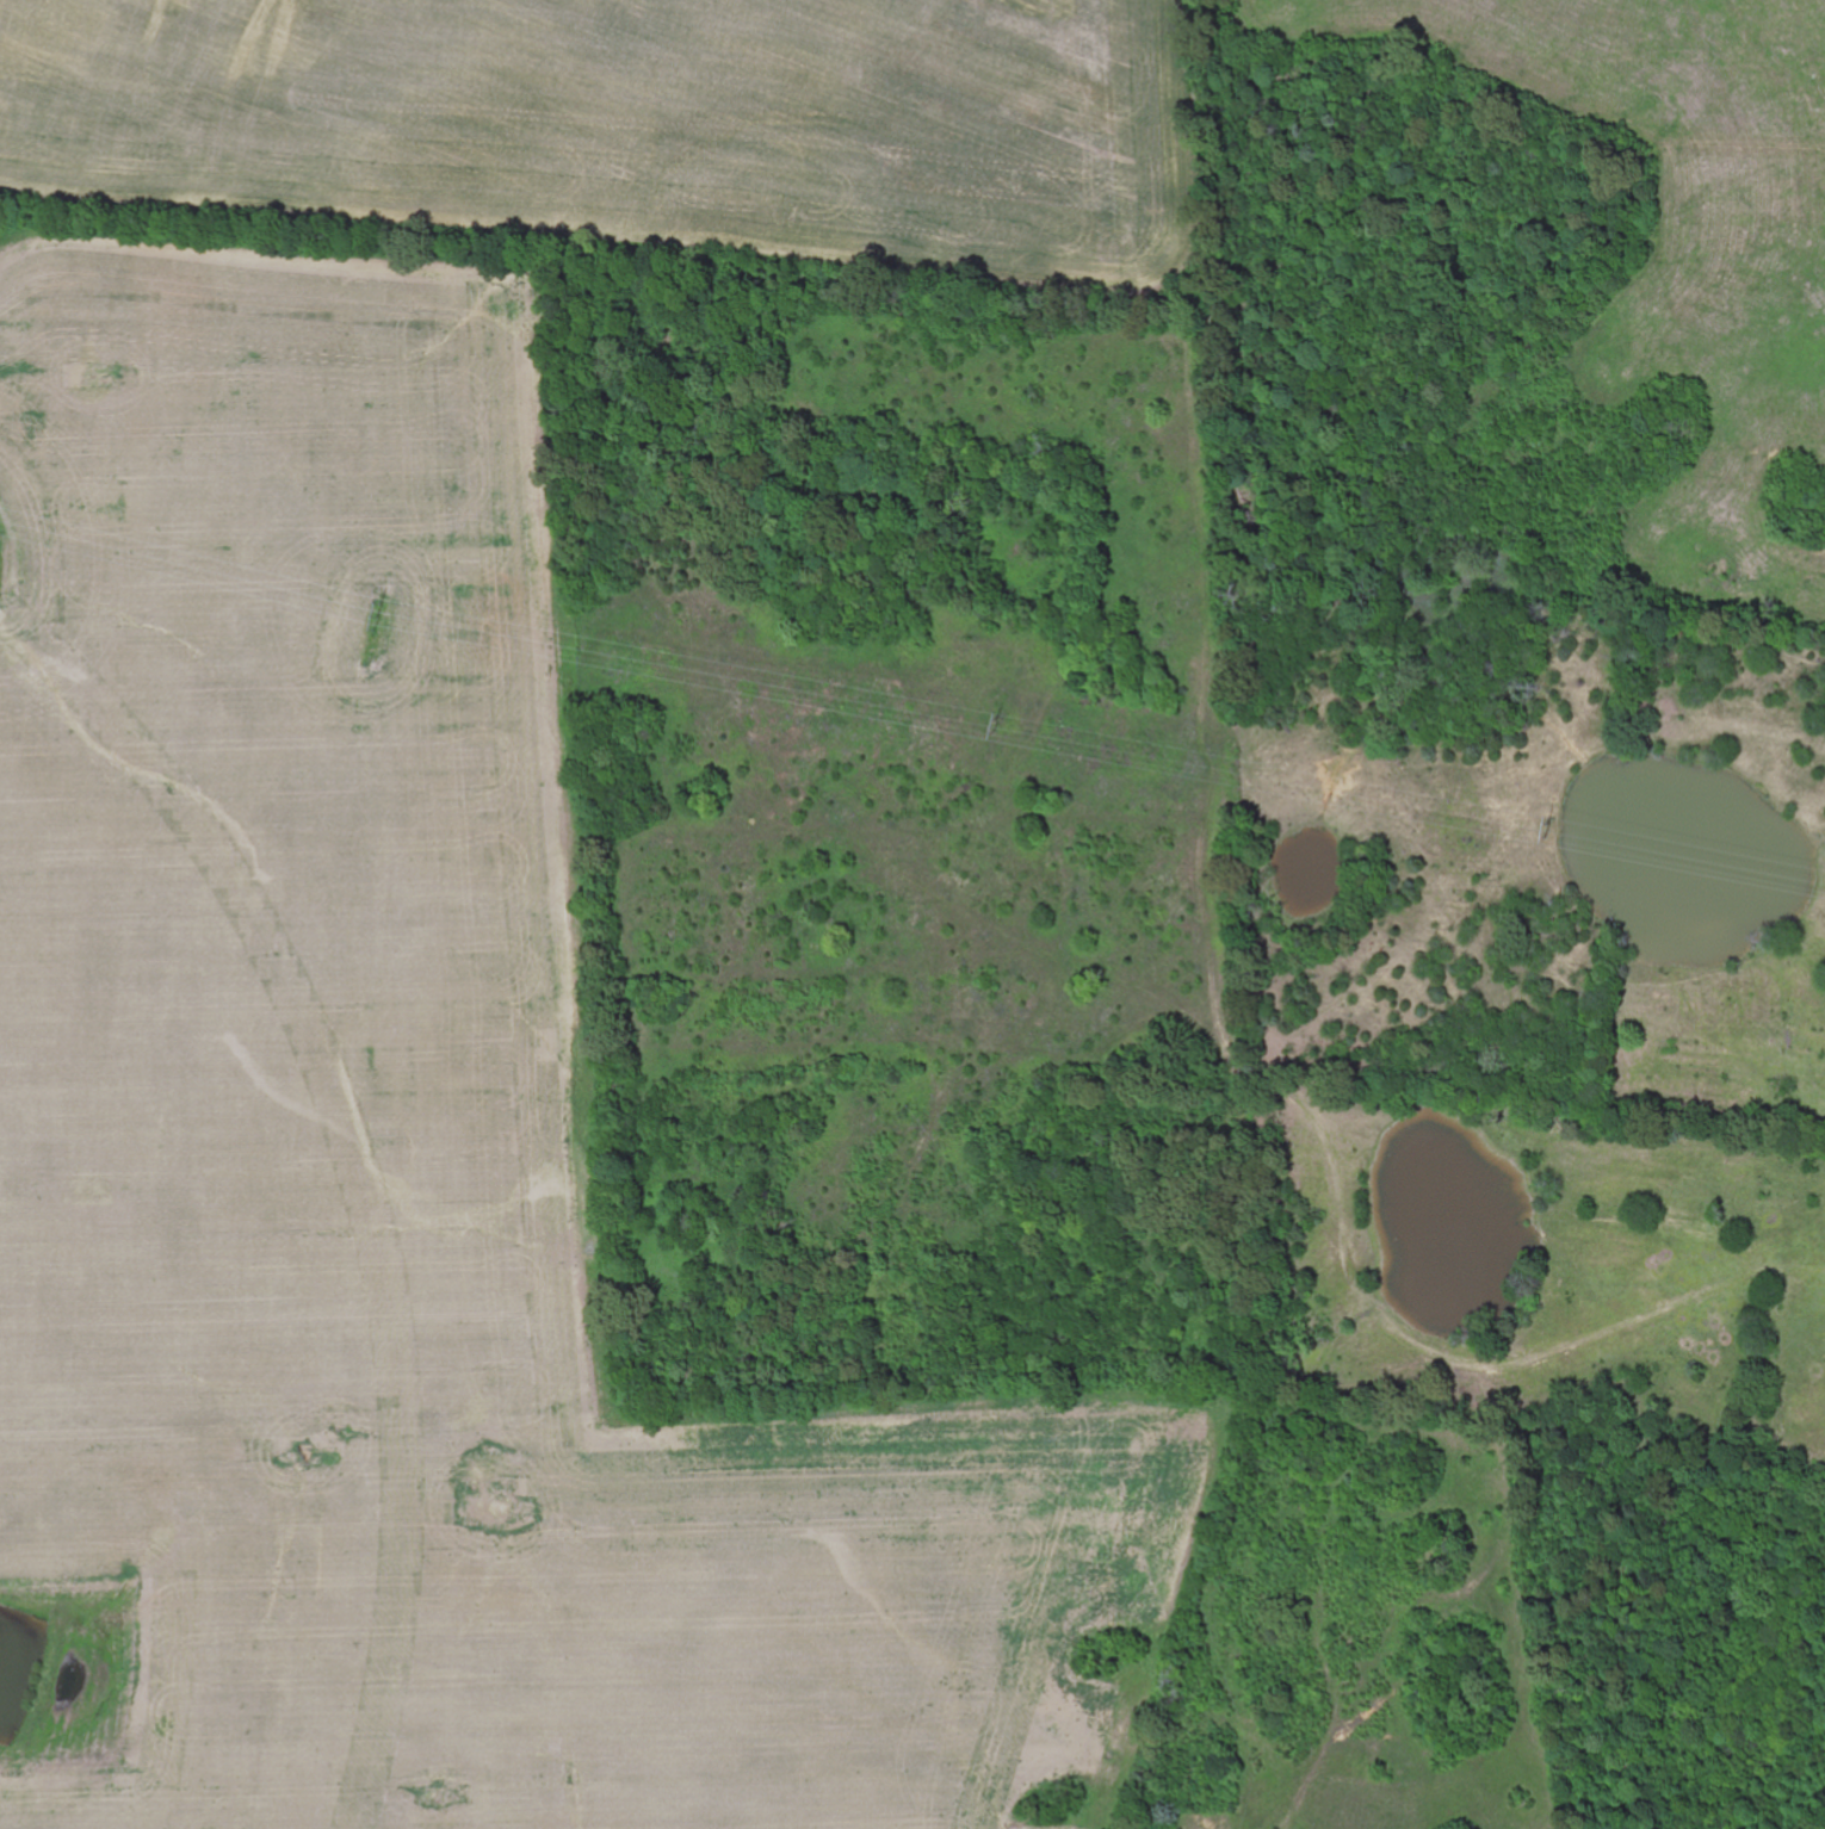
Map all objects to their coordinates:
power tower: (375, 614)
power tower: (969, 726)
power tower: (1543, 833)

